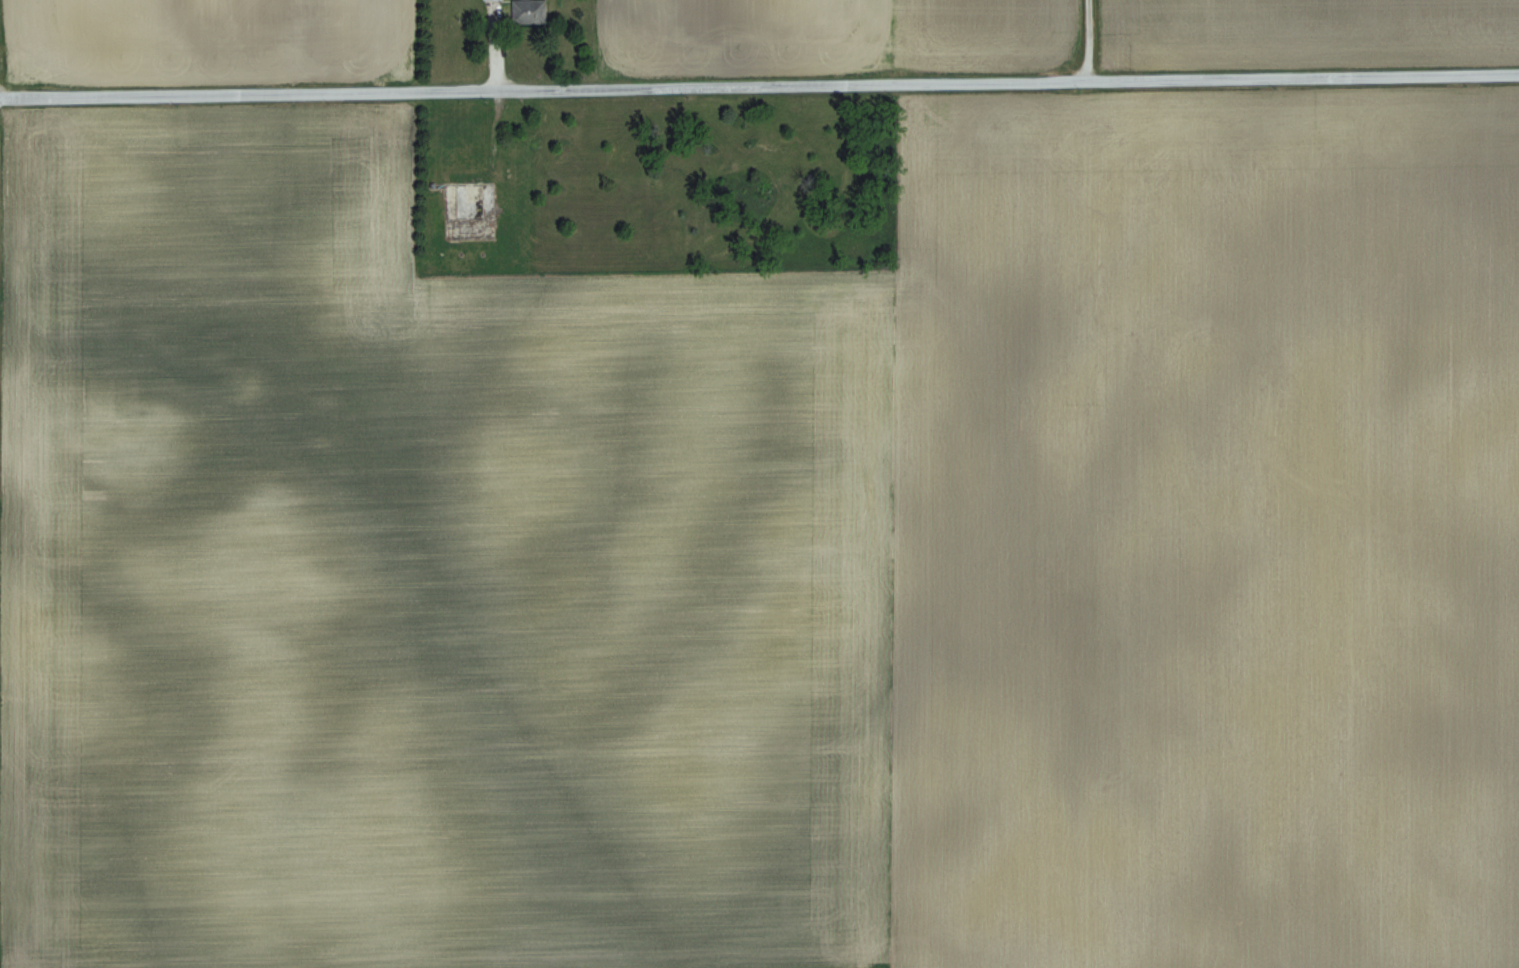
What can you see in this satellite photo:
building: (493, 0)
building: (530, 12)
road: (1094, 35)
road: (759, 80)
building: (471, 201)

